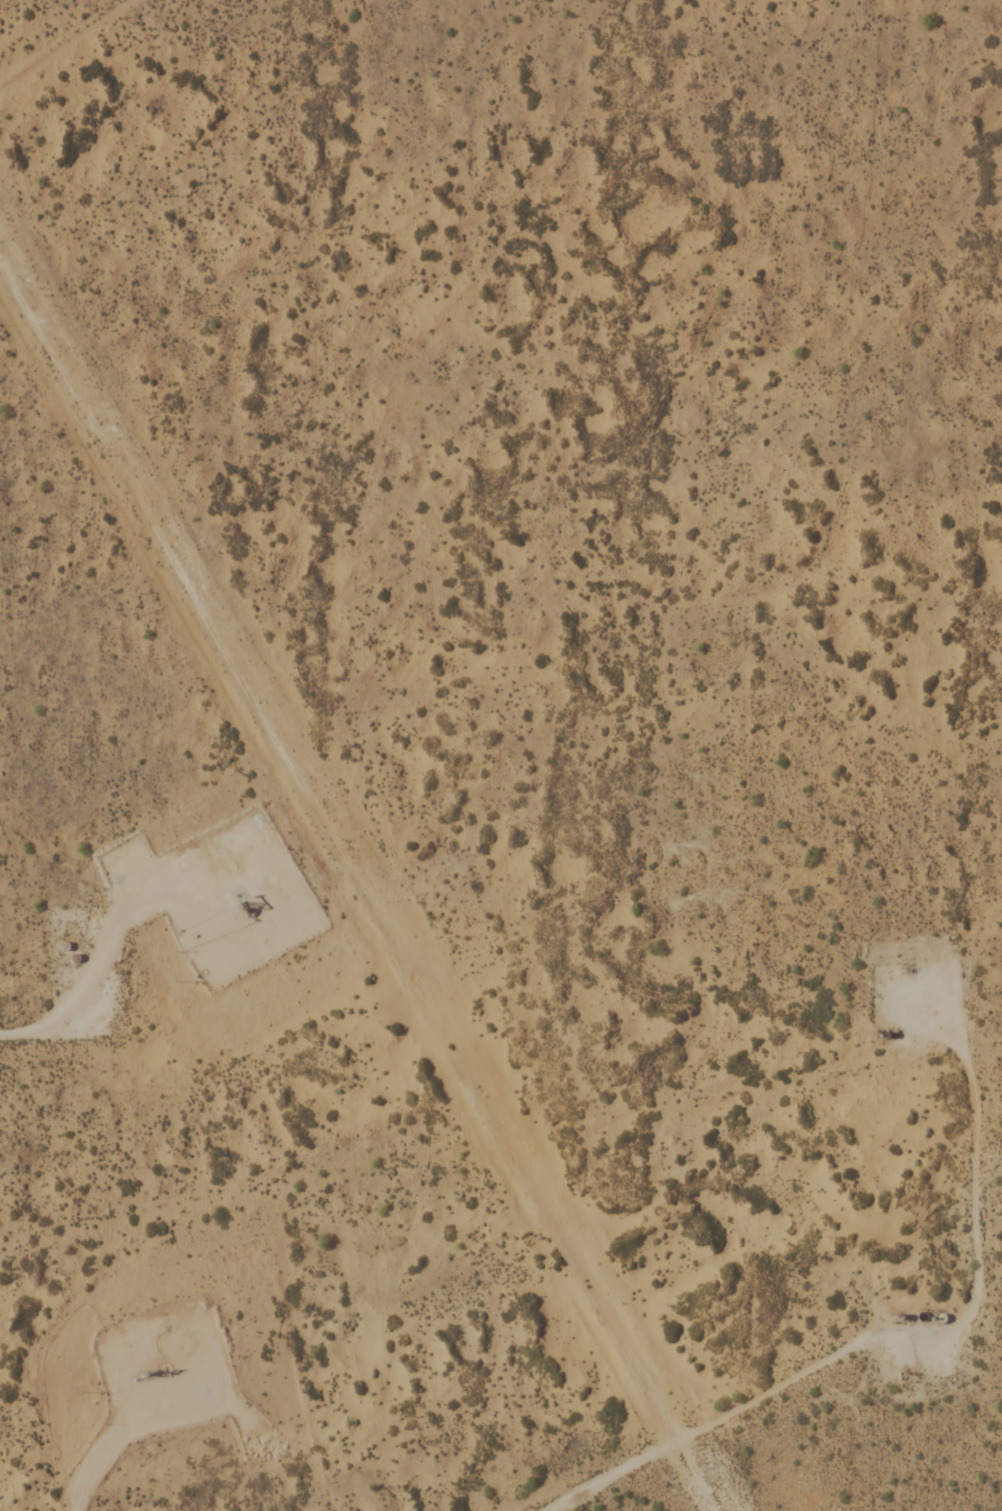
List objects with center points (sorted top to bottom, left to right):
road: (187, 923)
road: (897, 1337)
road: (83, 1461)

